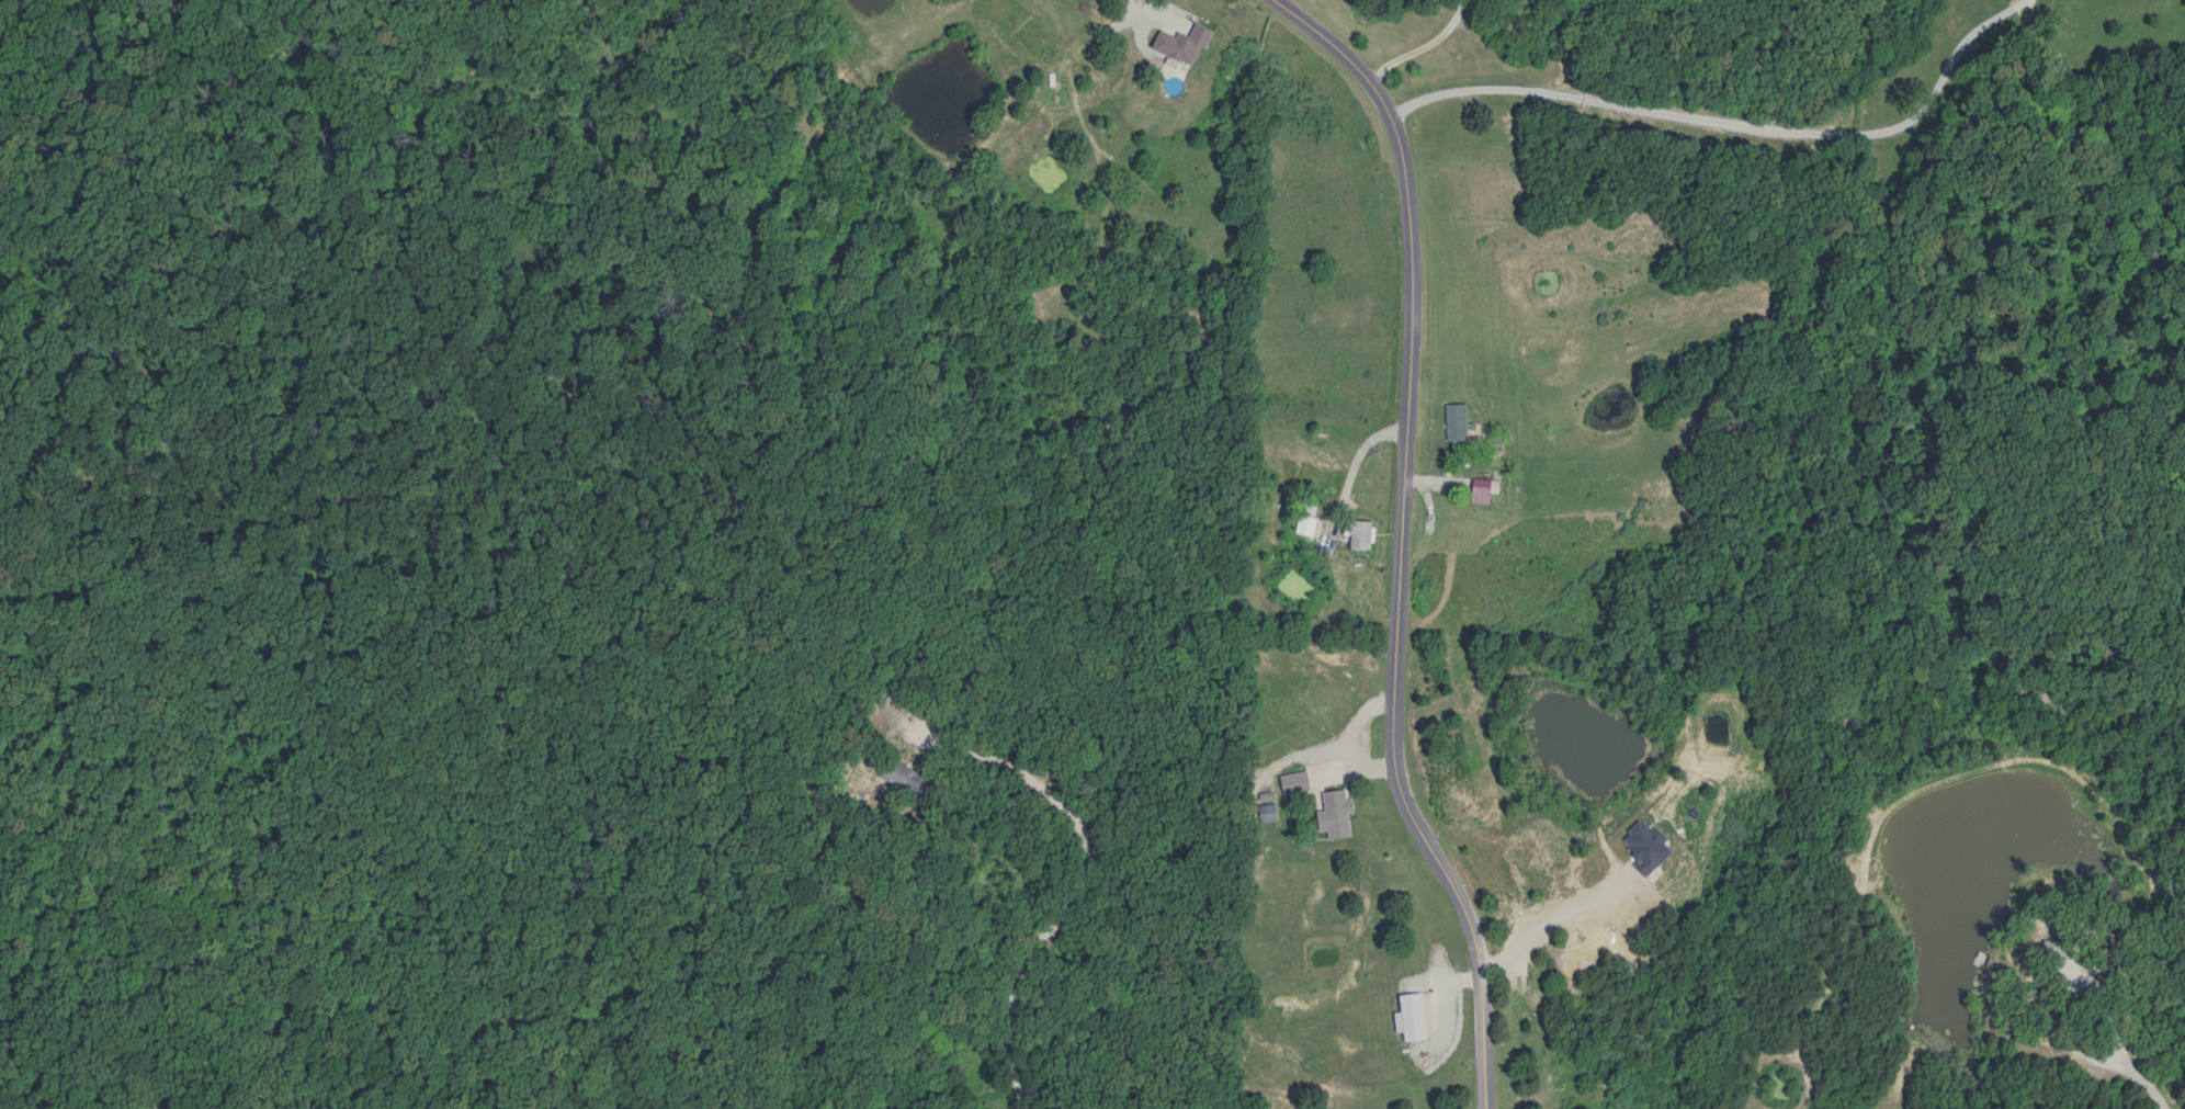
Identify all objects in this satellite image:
road: (1422, 48)
road: (1727, 121)
building: (1459, 422)
building: (1485, 491)
building: (1309, 518)
building: (1360, 535)
road: (1399, 537)
building: (1295, 782)
building: (1270, 812)
building: (1337, 814)
building: (1532, 863)
road: (1076, 882)
road: (1544, 919)
building: (2053, 946)
building: (1415, 1016)

